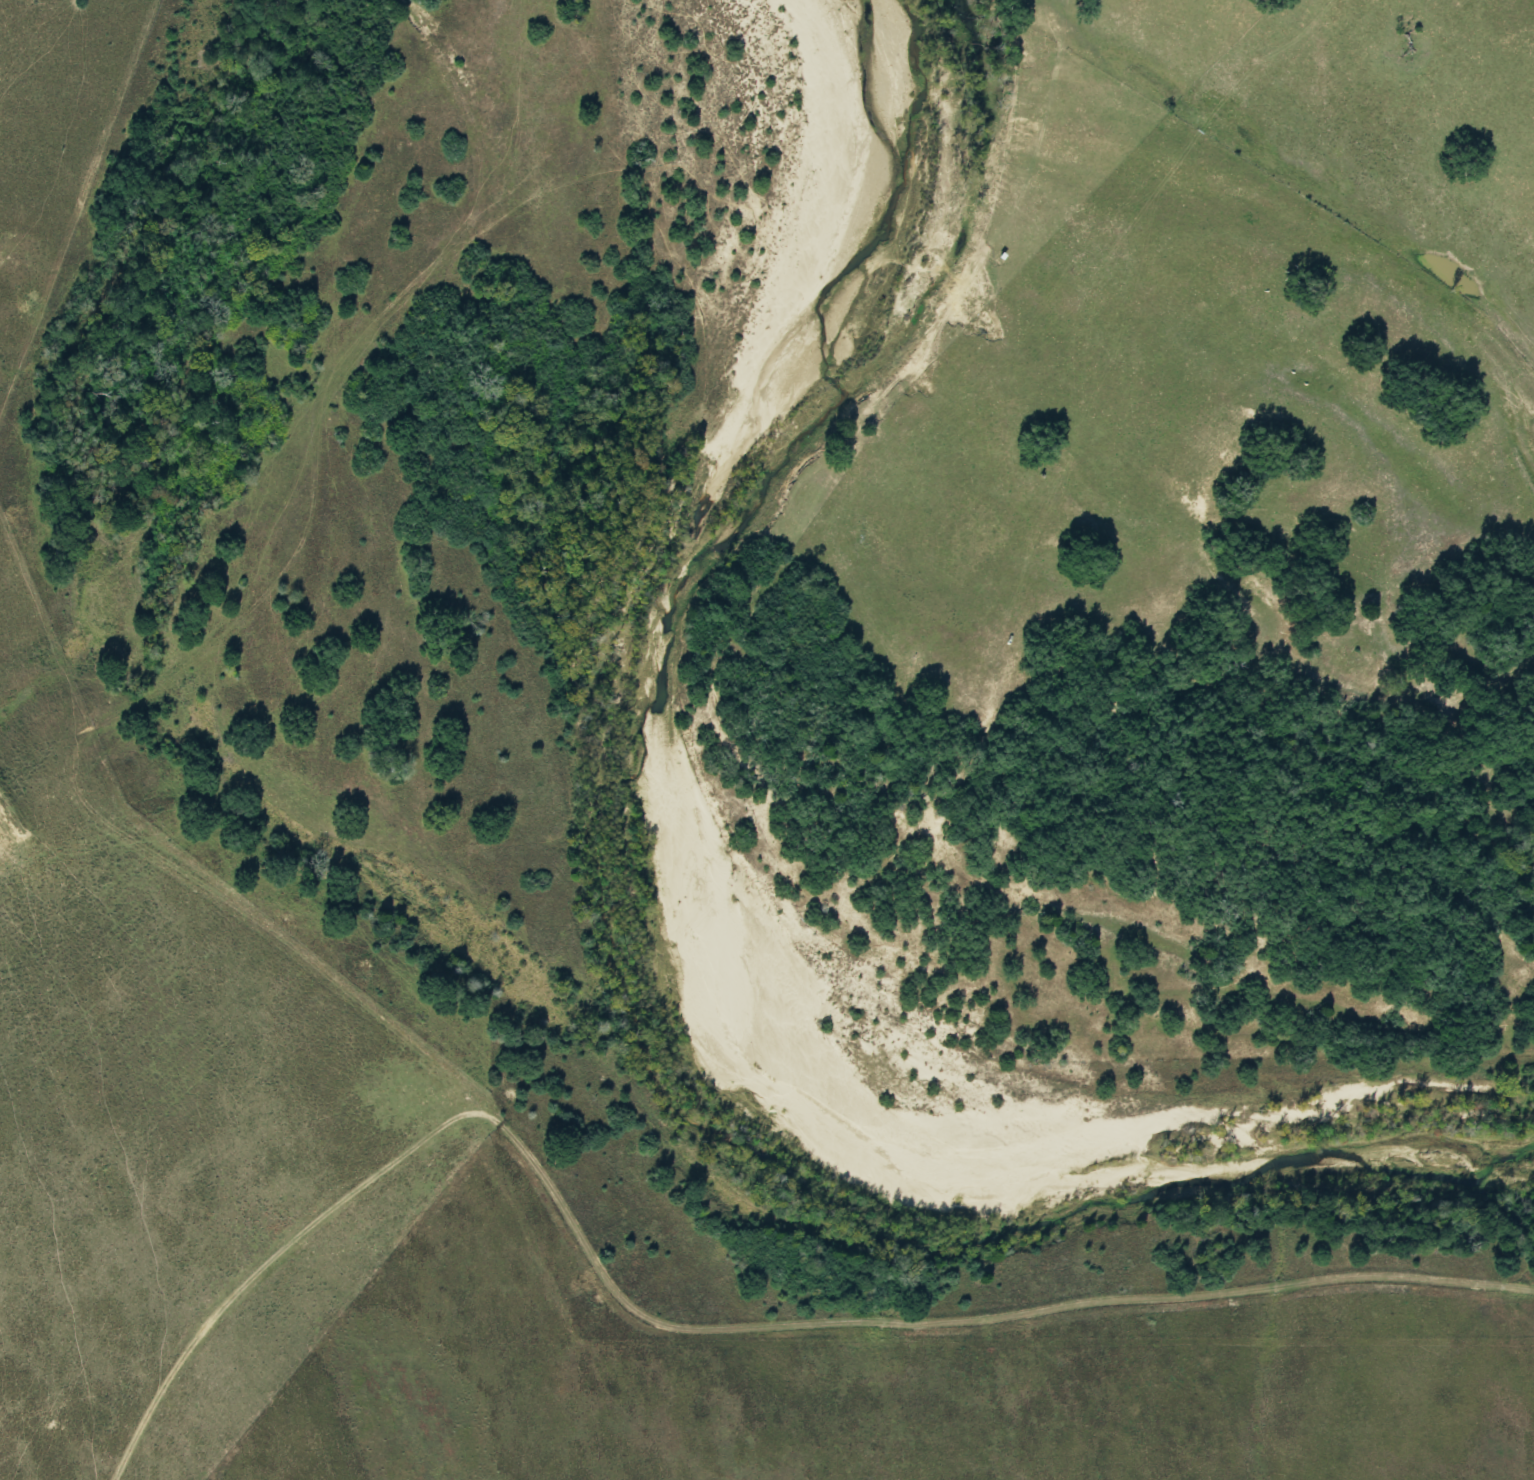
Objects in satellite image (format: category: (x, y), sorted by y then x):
river: (609, 948)
road: (452, 1075)
road: (267, 1261)

